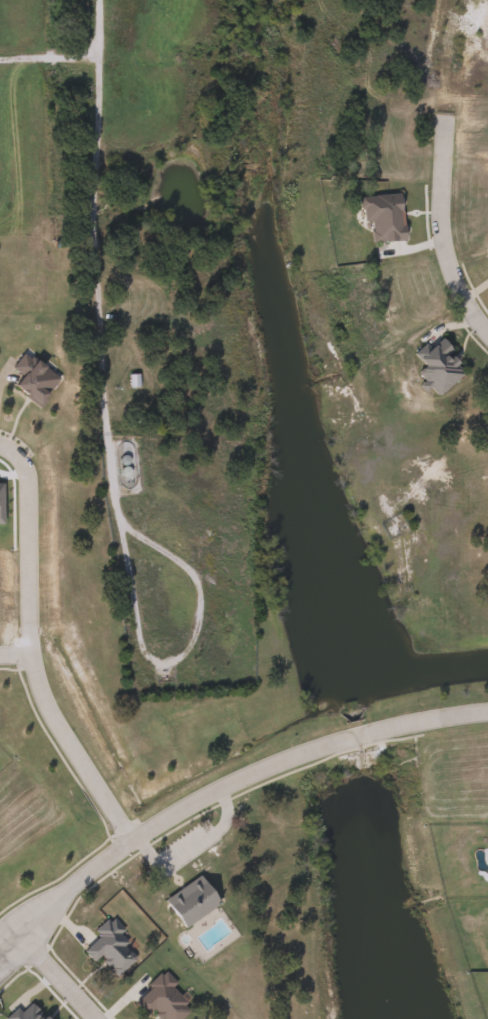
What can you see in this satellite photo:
road: (437, 237)
road: (96, 265)
building: (435, 367)
road: (30, 650)
road: (15, 652)
road: (186, 659)
road: (257, 764)
building: (190, 900)
road: (28, 907)
road: (29, 929)
building: (108, 947)
road: (57, 978)

